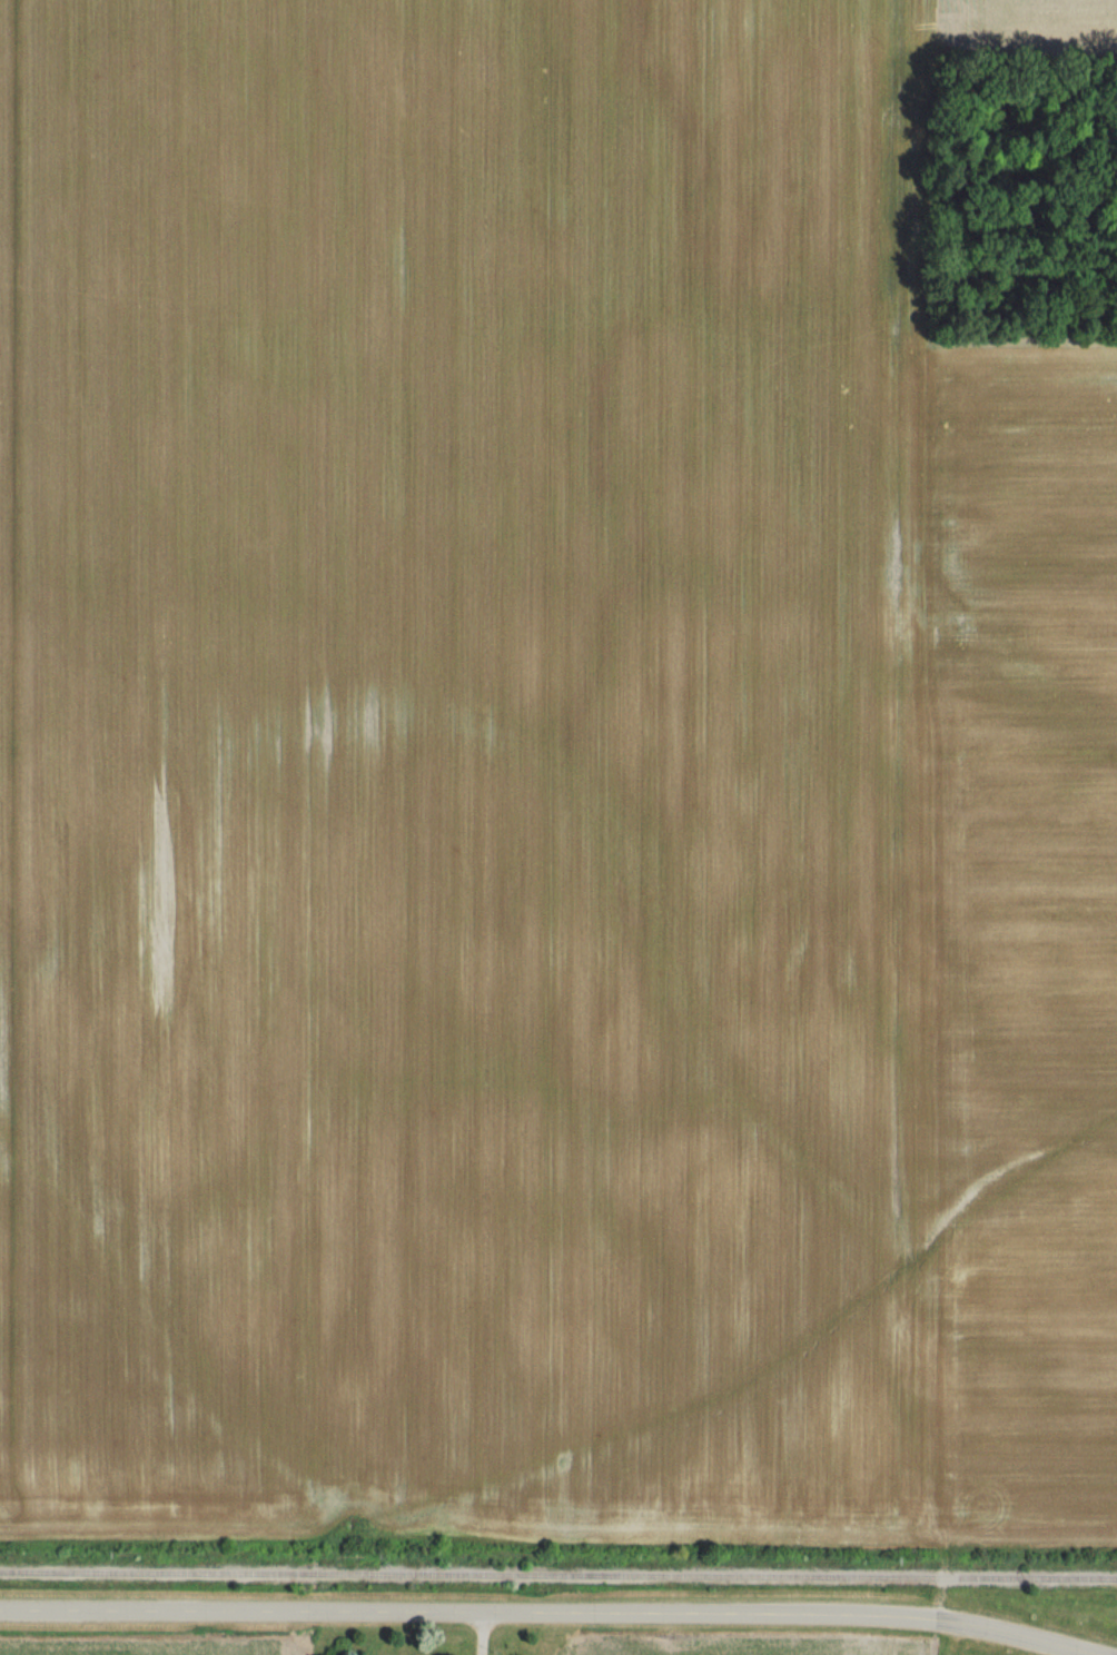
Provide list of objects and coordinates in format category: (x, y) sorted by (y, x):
railway: (558, 1575)
road: (398, 1614)
road: (945, 1623)

